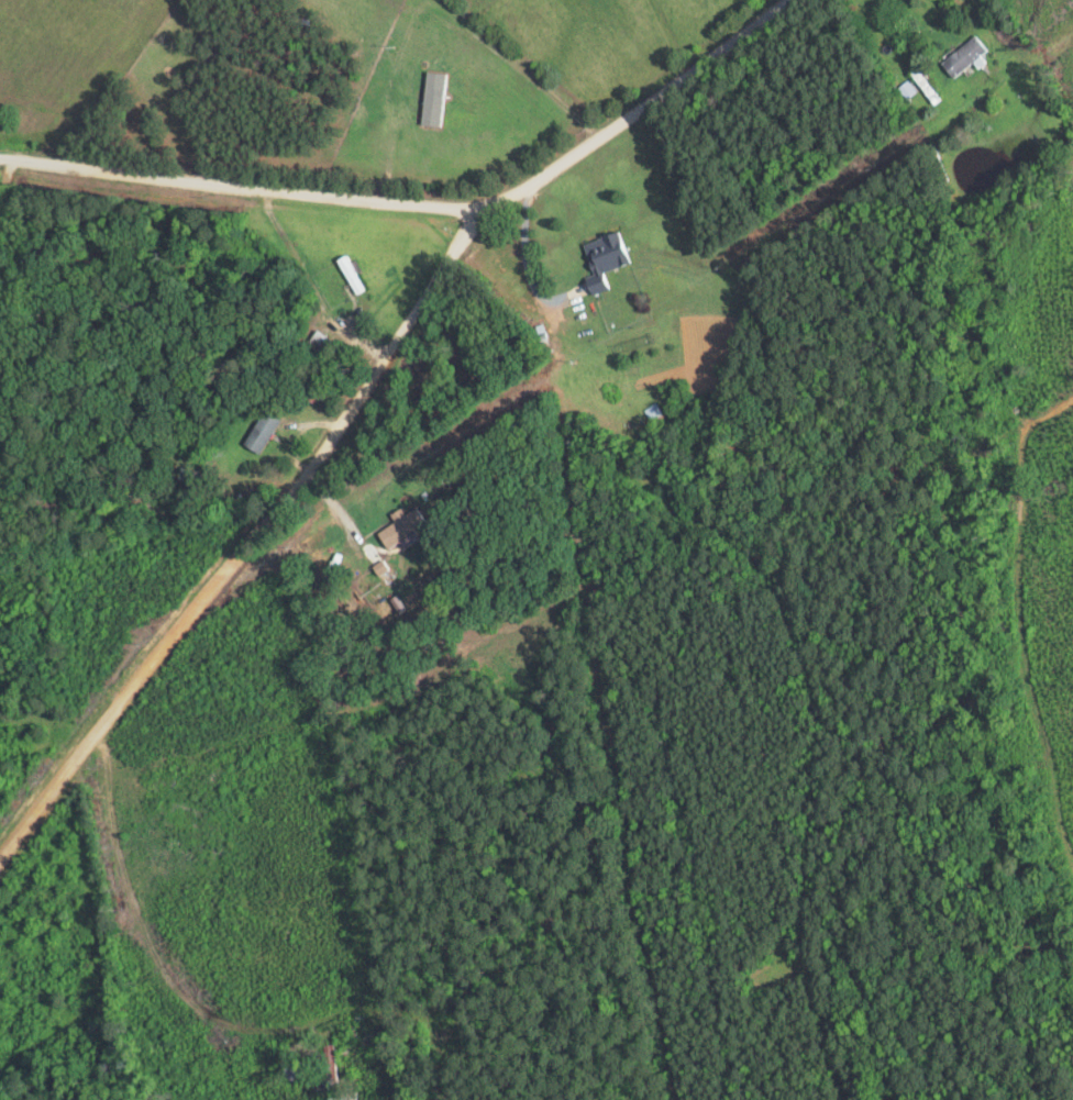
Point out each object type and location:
building: (967, 57)
road: (443, 196)
building: (605, 259)
building: (351, 274)
building: (323, 344)
building: (264, 431)
building: (405, 527)
road: (257, 549)

